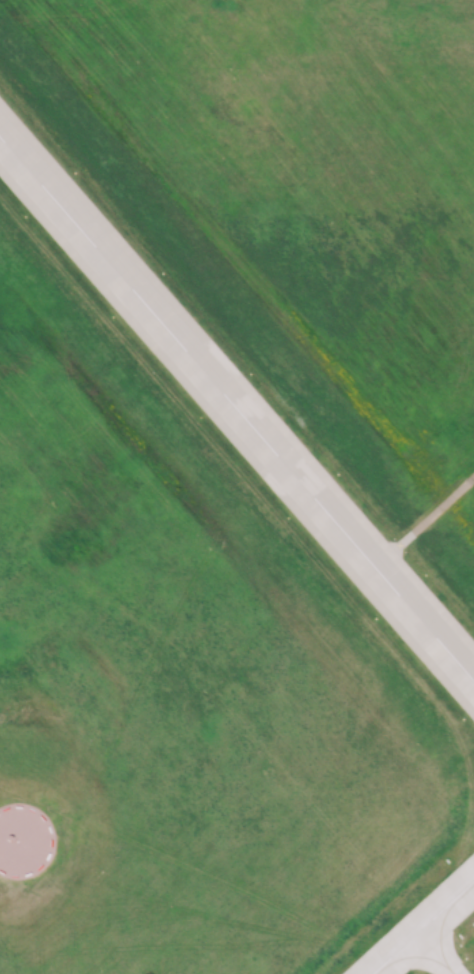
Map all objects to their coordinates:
airport runway: (237, 407)
airport: (237, 487)
airport runway: (425, 929)
airport taxiway: (441, 952)

